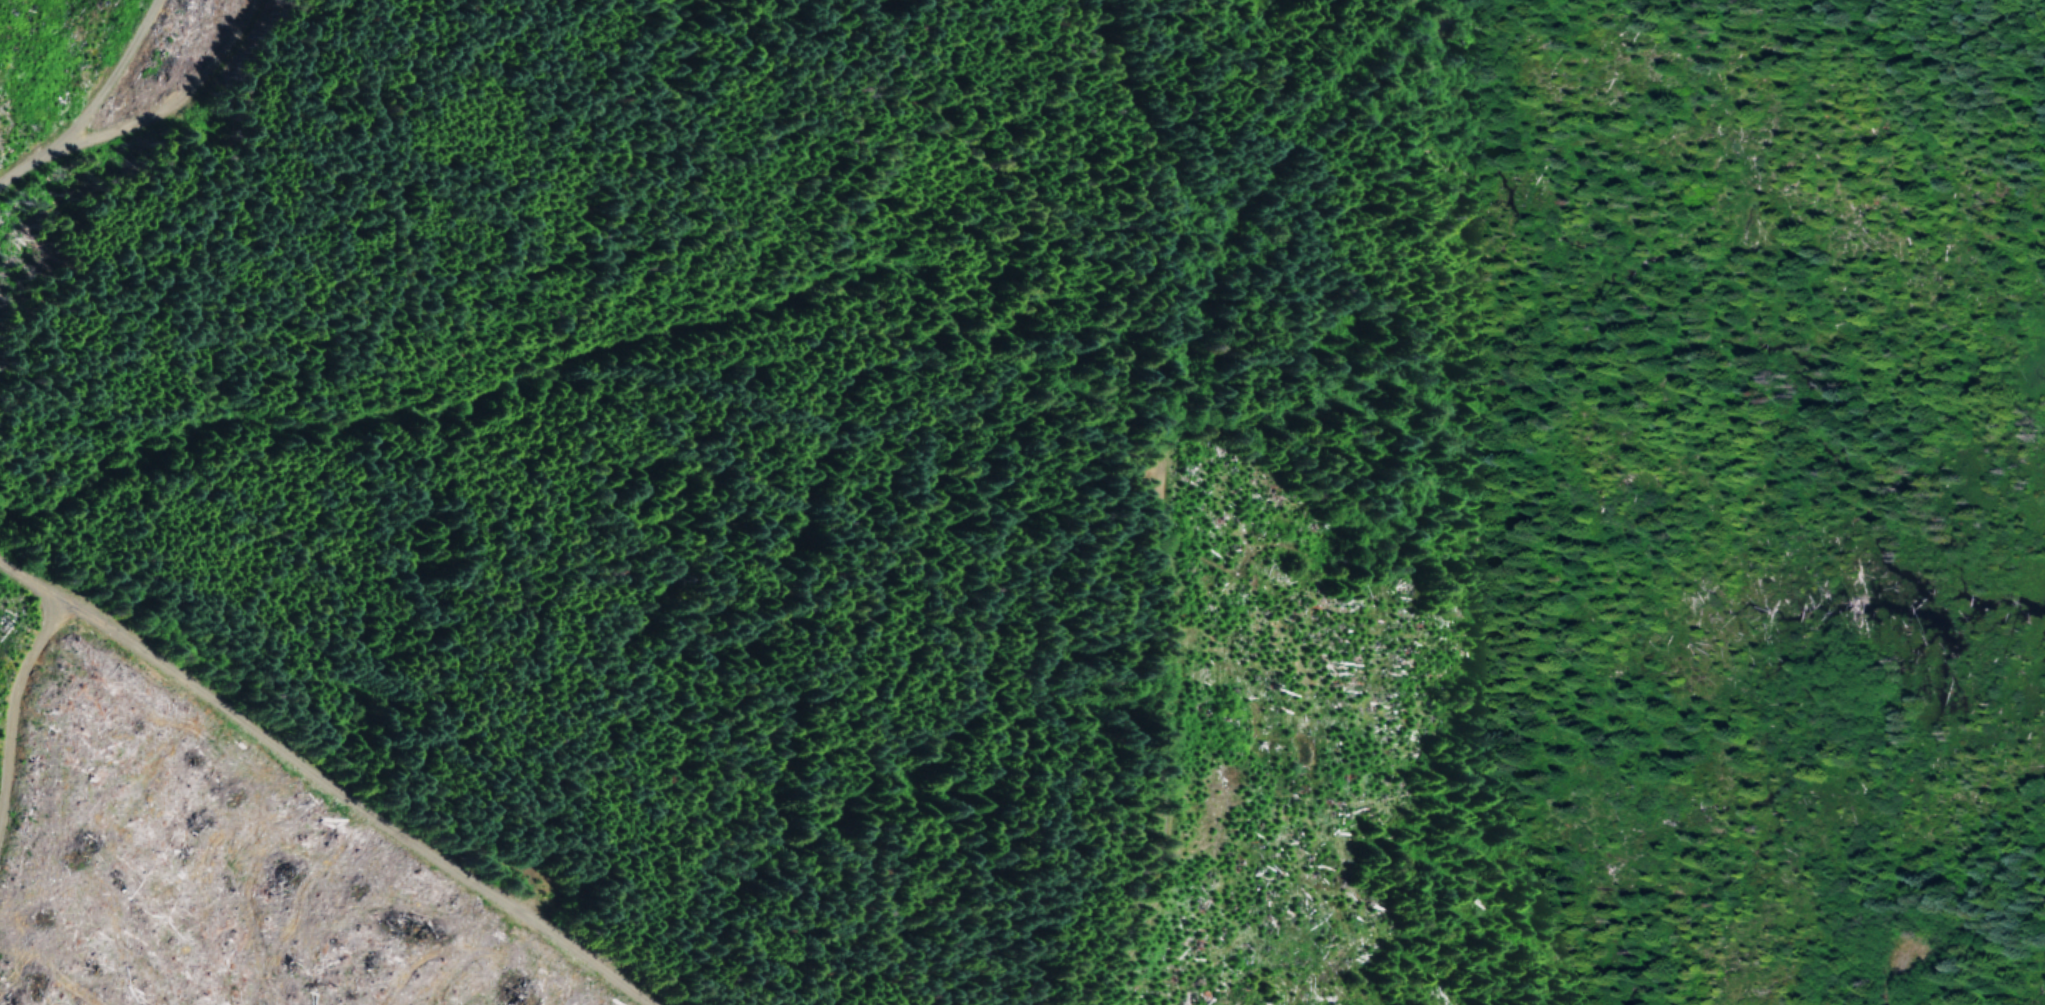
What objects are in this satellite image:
road: (98, 70)
road: (144, 123)
road: (1169, 485)
road: (40, 720)
road: (362, 806)
road: (1904, 973)

